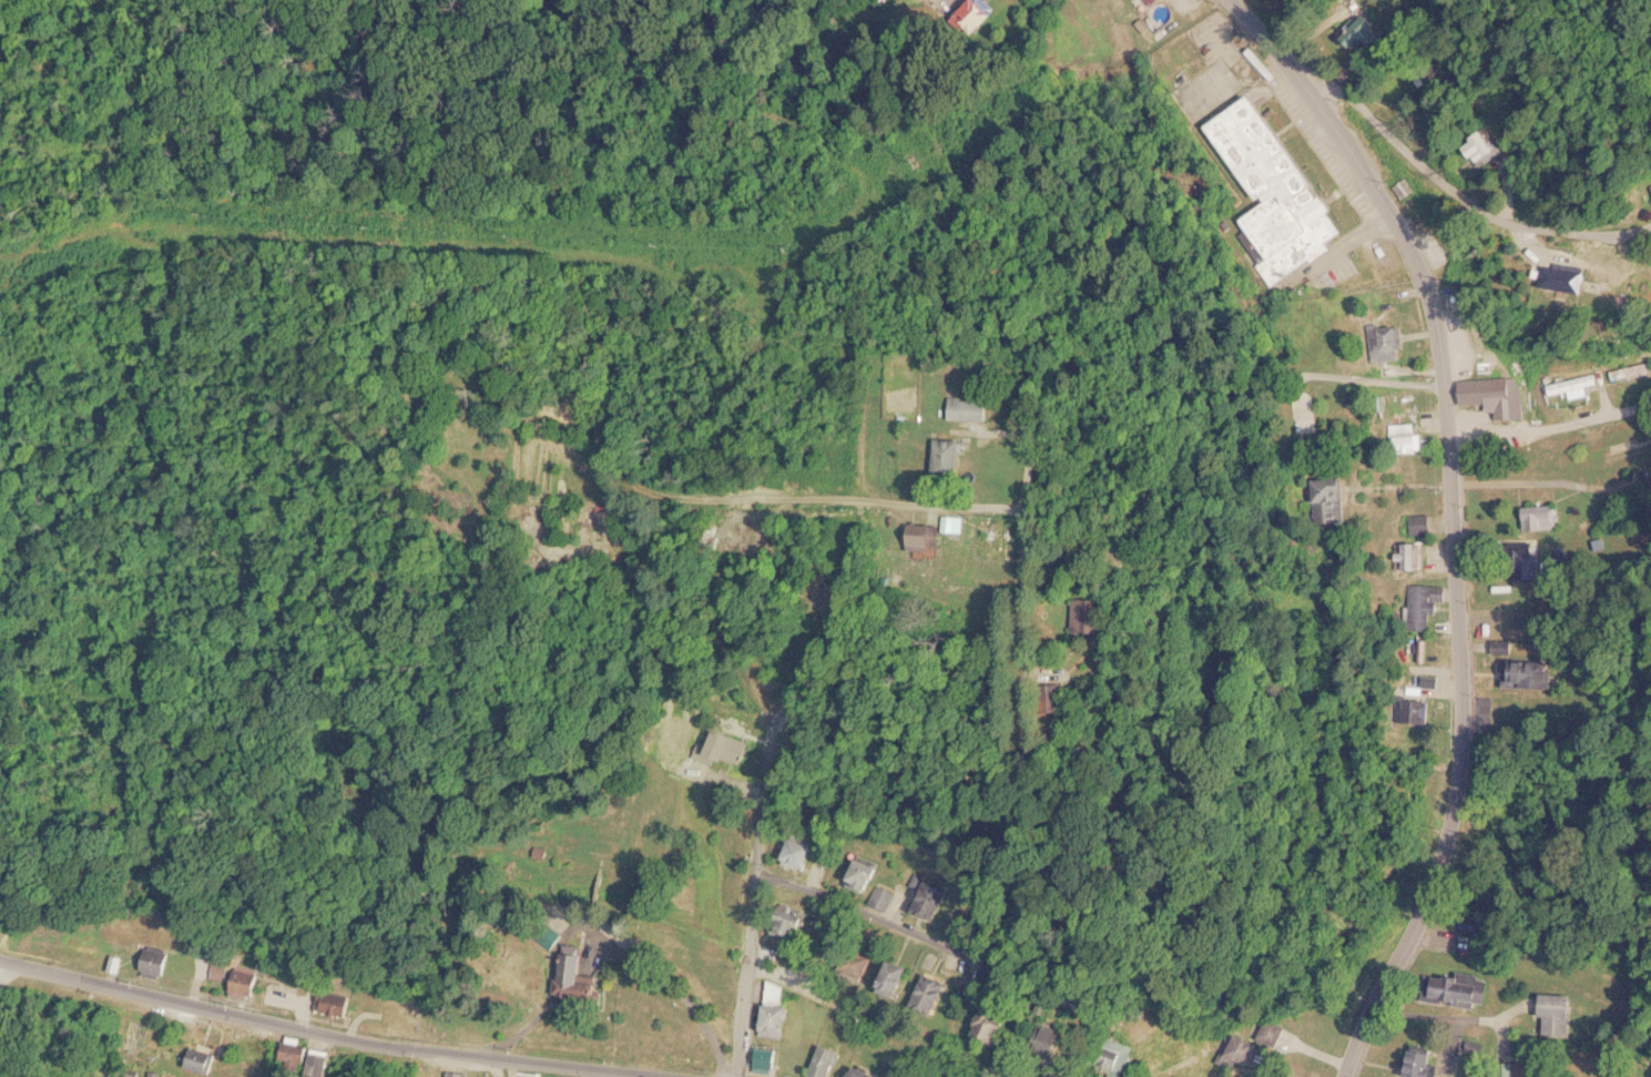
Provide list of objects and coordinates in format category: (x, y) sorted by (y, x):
building: (1360, 32)
building: (1484, 148)
road: (1477, 180)
building: (1275, 185)
building: (1567, 277)
building: (1384, 342)
building: (1632, 370)
road: (1347, 376)
building: (1576, 385)
building: (1489, 395)
building: (970, 409)
building: (1409, 438)
building: (951, 456)
building: (1337, 500)
road: (1456, 517)
building: (1539, 518)
building: (956, 524)
building: (1421, 524)
building: (716, 536)
building: (999, 537)
building: (930, 538)
building: (1413, 556)
building: (1104, 616)
building: (1421, 617)
road: (1020, 638)
building: (1531, 672)
building: (1425, 711)
building: (733, 745)
road: (1527, 760)
building: (802, 854)
building: (864, 874)
building: (884, 897)
building: (934, 900)
road: (920, 936)
building: (160, 961)
building: (863, 965)
road: (743, 971)
building: (223, 972)
building: (581, 974)
building: (897, 978)
building: (249, 982)
building: (1460, 989)
building: (931, 994)
road: (2, 996)
building: (337, 1003)
building: (781, 1013)
building: (1560, 1014)
building: (407, 1015)
road: (358, 1018)
building: (998, 1025)
building: (1244, 1050)
building: (770, 1058)
building: (204, 1059)
building: (1122, 1059)
building: (827, 1061)
building: (1423, 1061)
building: (324, 1064)
building: (862, 1071)
building: (460, 1074)
building: (898, 1075)

